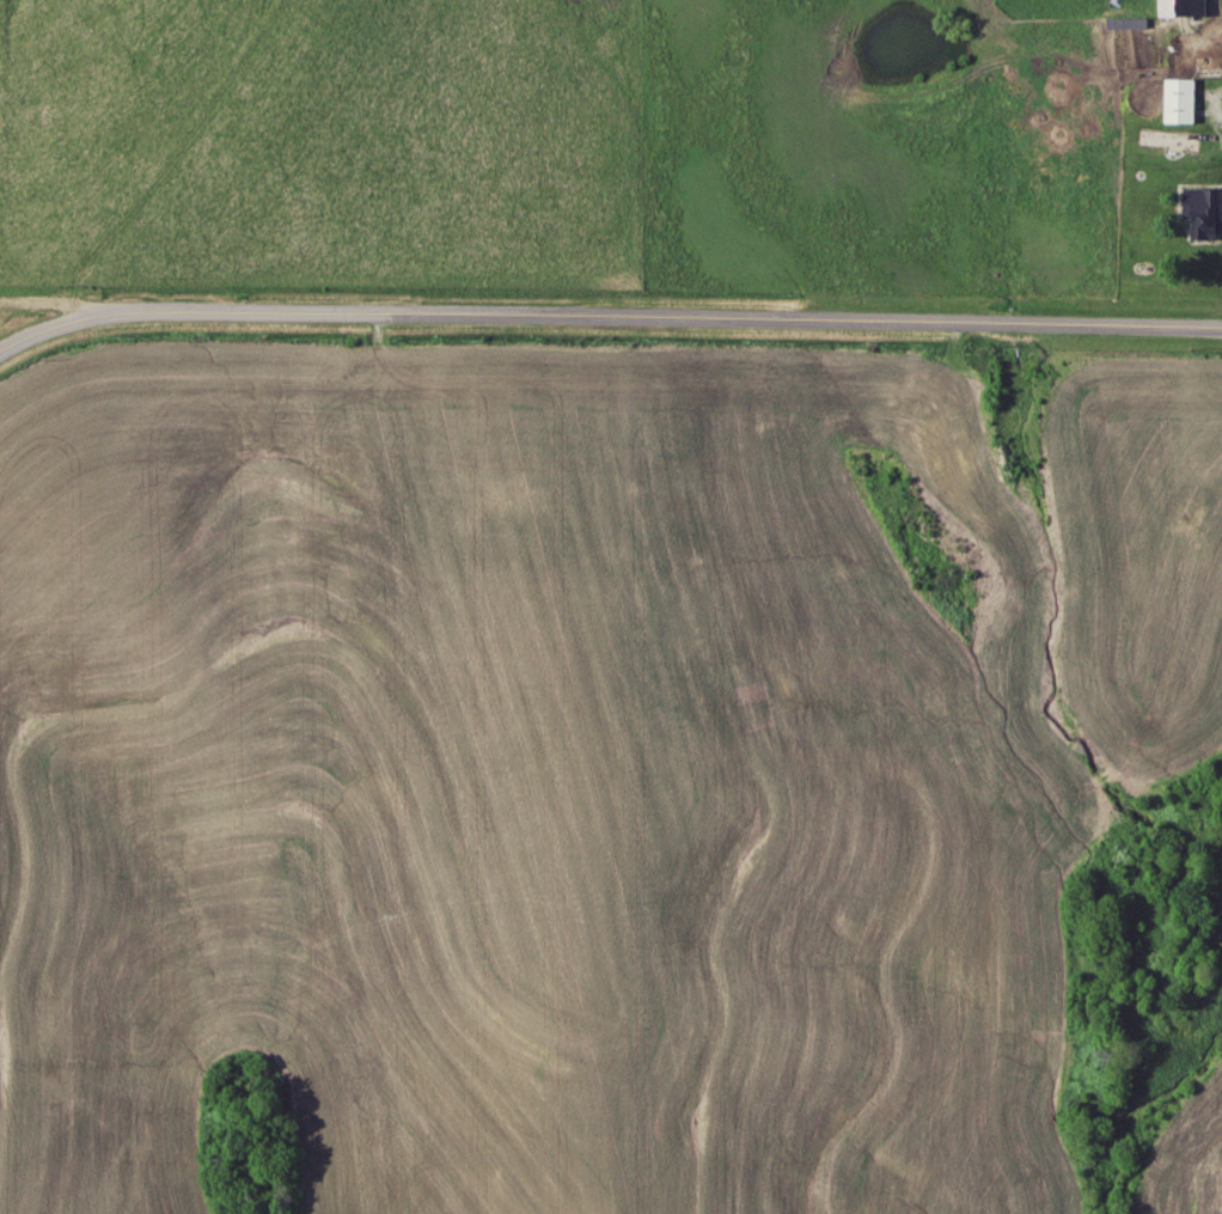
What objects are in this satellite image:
building: (1179, 5)
building: (1178, 96)
building: (1197, 206)
road: (48, 299)
road: (606, 311)

